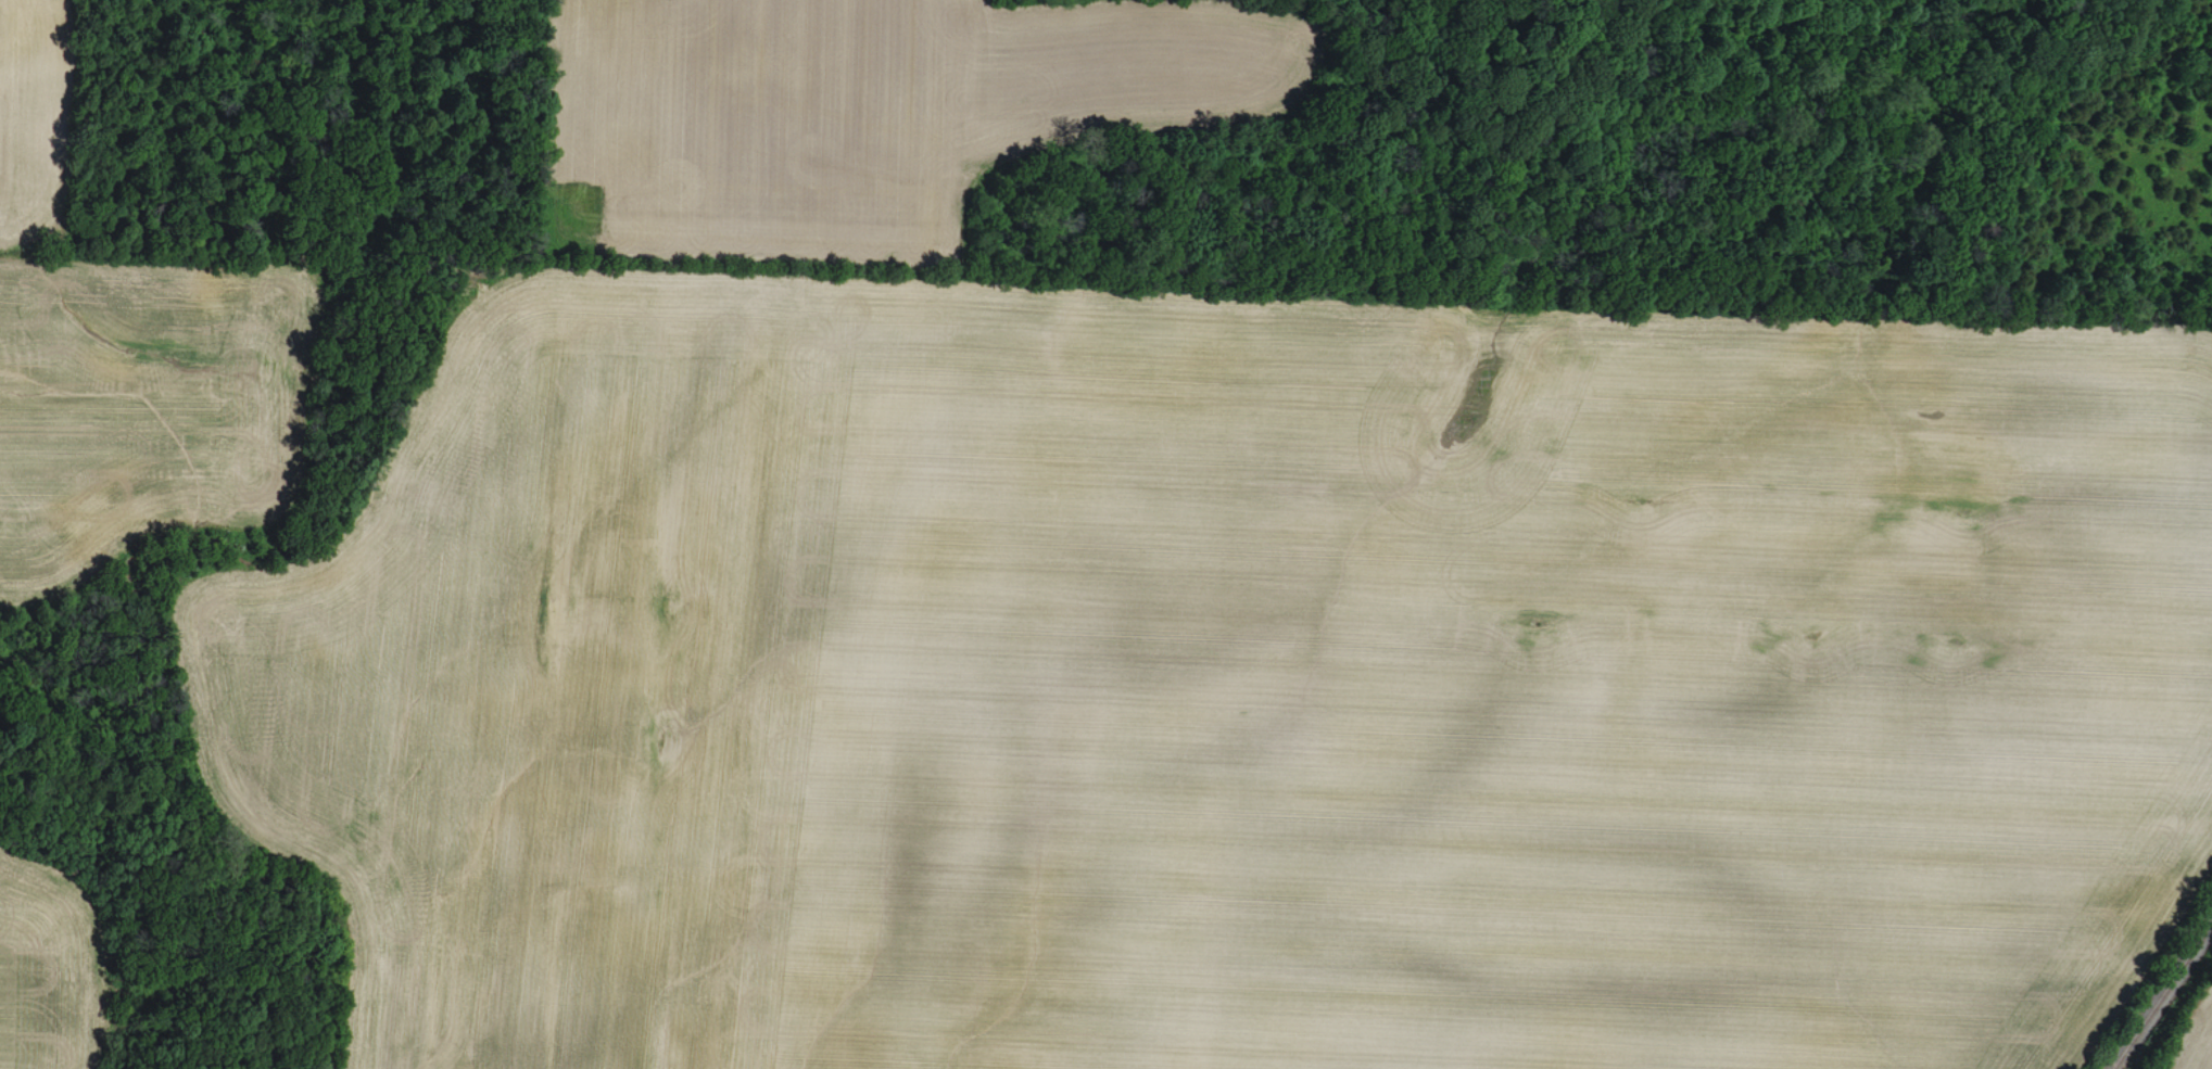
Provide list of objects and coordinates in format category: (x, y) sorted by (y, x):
railway: (2162, 994)

